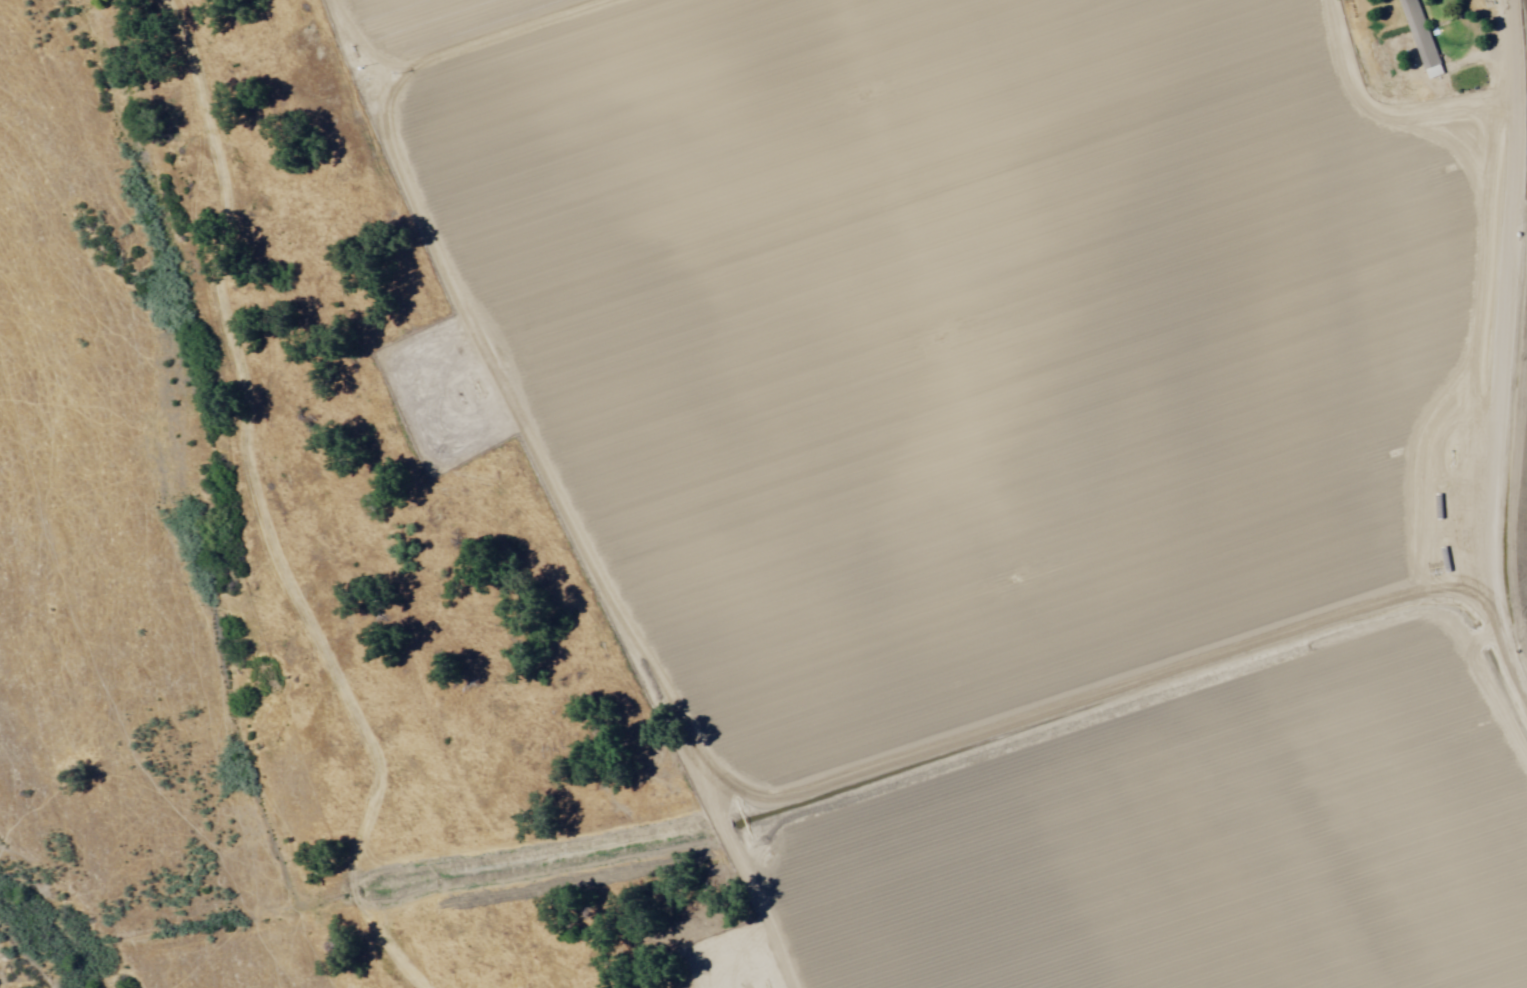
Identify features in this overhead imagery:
building: (1416, 37)
road: (1497, 48)
road: (472, 60)
road: (1474, 305)
crop: (1030, 448)
road: (1504, 670)
road: (135, 733)
building: (728, 939)

